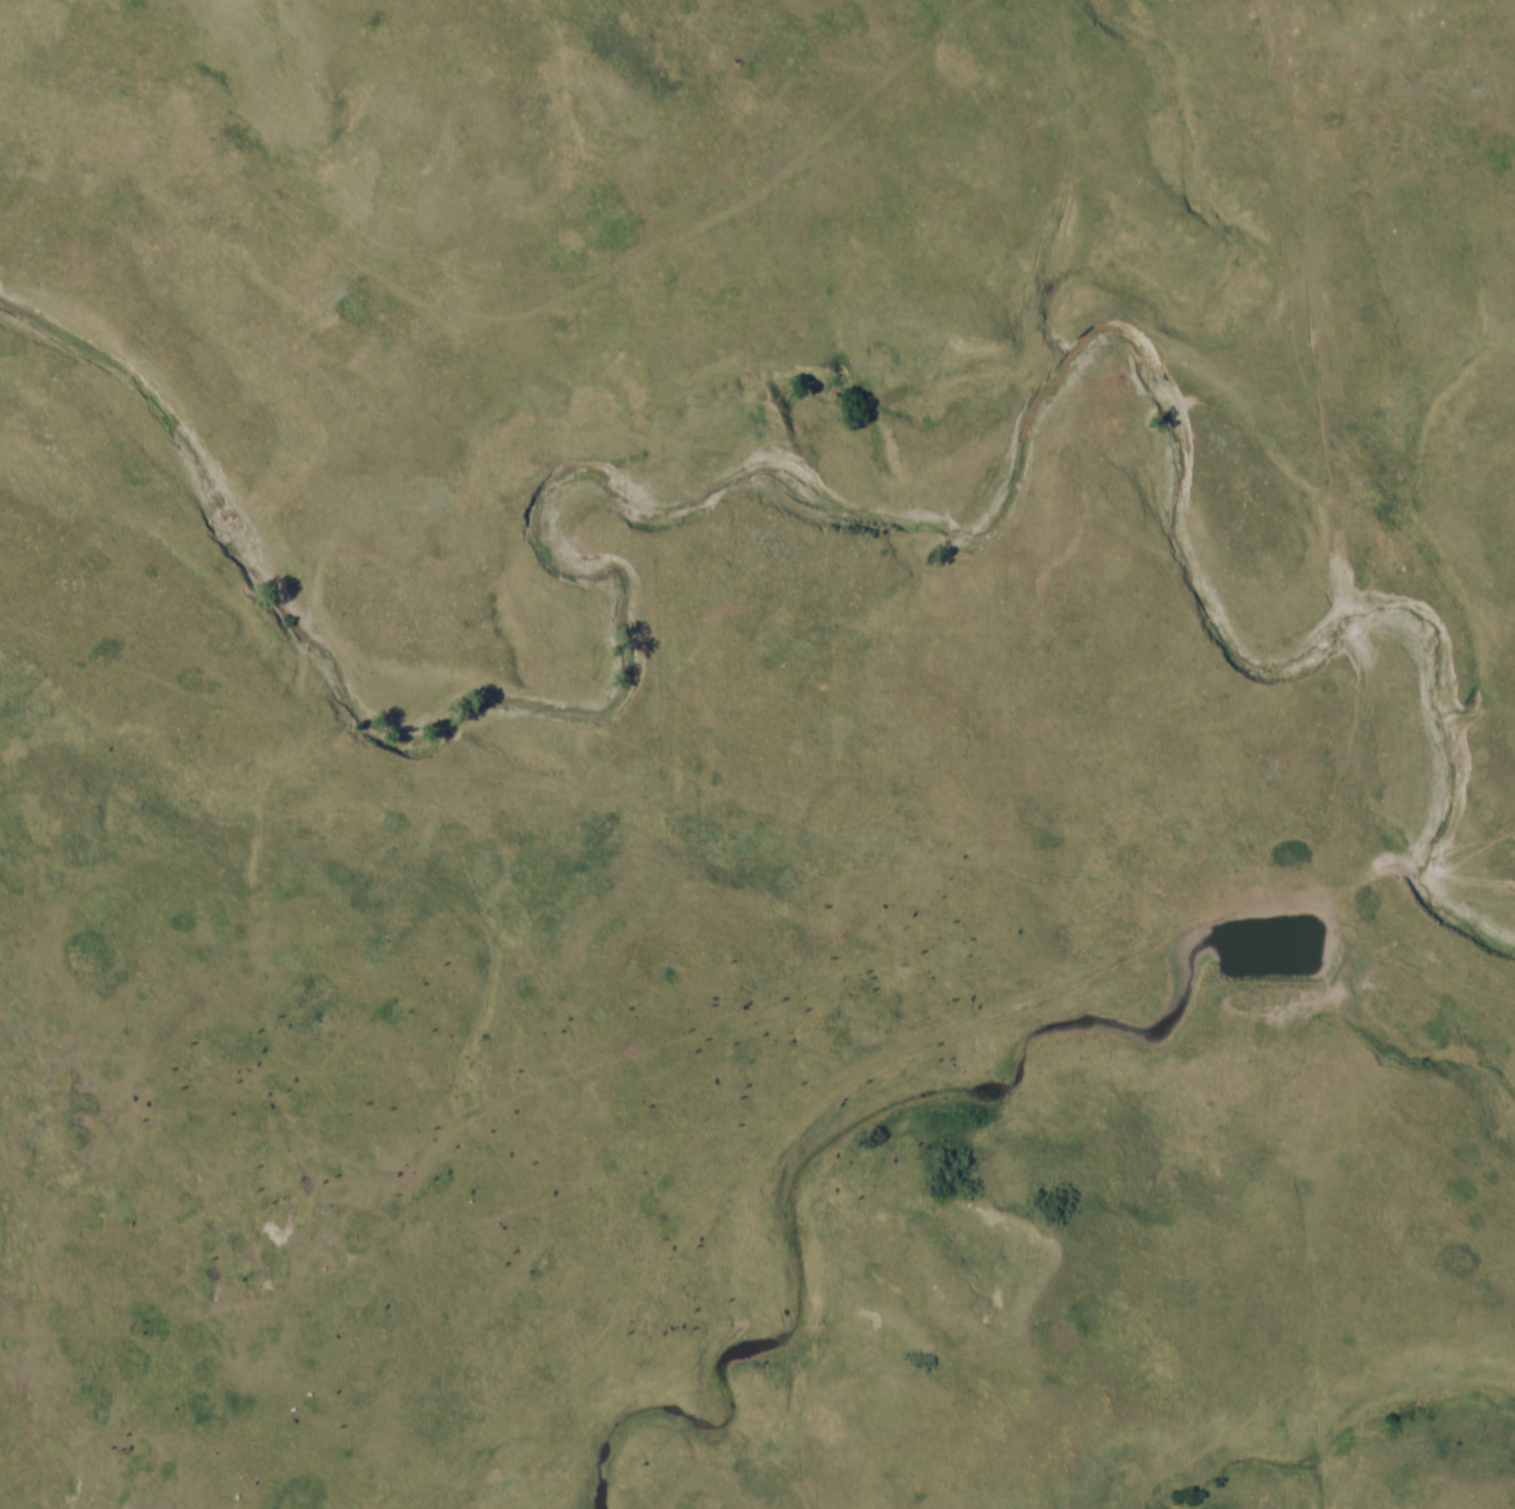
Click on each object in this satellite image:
road: (1395, 73)
road: (1312, 299)

